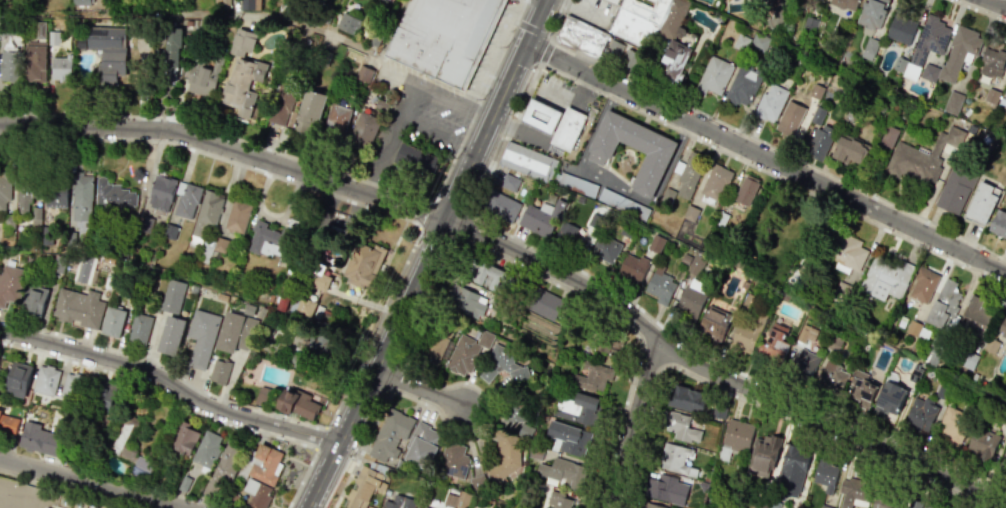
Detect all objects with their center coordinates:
building: (81, 2)
building: (844, 3)
building: (222, 4)
building: (250, 4)
road: (995, 4)
building: (646, 9)
road: (516, 10)
road: (978, 10)
building: (872, 13)
road: (259, 18)
building: (348, 23)
building: (808, 23)
building: (633, 28)
building: (900, 28)
road: (531, 29)
building: (582, 36)
building: (444, 37)
building: (672, 42)
building: (741, 42)
building: (242, 43)
building: (759, 43)
traffic signals: (526, 44)
building: (926, 44)
building: (614, 48)
building: (869, 48)
building: (109, 51)
building: (958, 52)
road: (545, 53)
building: (171, 54)
building: (630, 55)
building: (992, 60)
building: (36, 61)
building: (8, 64)
building: (899, 64)
building: (61, 68)
building: (929, 72)
building: (713, 75)
building: (203, 78)
building: (243, 85)
building: (740, 89)
building: (816, 91)
building: (991, 95)
building: (1002, 100)
building: (770, 102)
building: (953, 102)
building: (280, 106)
building: (309, 110)
building: (817, 114)
building: (541, 116)
parking lot: (415, 117)
building: (790, 118)
building: (338, 119)
road: (464, 128)
building: (568, 128)
building: (971, 129)
building: (363, 130)
building: (888, 136)
road: (759, 140)
building: (819, 143)
road: (225, 146)
building: (847, 147)
building: (657, 152)
road: (765, 156)
building: (919, 157)
road: (495, 160)
building: (527, 161)
building: (416, 162)
building: (689, 175)
road: (772, 176)
building: (509, 182)
building: (715, 183)
building: (577, 184)
road: (613, 186)
building: (4, 189)
building: (747, 189)
building: (953, 190)
building: (161, 193)
building: (113, 194)
building: (667, 195)
building: (56, 196)
building: (82, 197)
building: (23, 198)
building: (186, 200)
building: (981, 203)
building: (500, 205)
building: (722, 212)
building: (207, 213)
building: (690, 213)
building: (36, 215)
building: (237, 216)
building: (541, 217)
building: (998, 223)
road: (465, 226)
building: (626, 229)
building: (170, 231)
building: (569, 236)
building: (267, 240)
building: (656, 243)
building: (214, 245)
building: (605, 248)
building: (846, 250)
road: (426, 254)
building: (685, 258)
building: (364, 262)
building: (696, 264)
building: (632, 268)
building: (84, 269)
building: (487, 276)
road: (546, 279)
building: (886, 279)
building: (9, 283)
building: (923, 284)
building: (659, 285)
building: (841, 293)
building: (173, 296)
building: (33, 300)
building: (746, 300)
building: (465, 301)
building: (689, 303)
building: (545, 304)
building: (943, 304)
building: (78, 307)
building: (305, 307)
building: (317, 311)
building: (973, 316)
building: (113, 321)
building: (713, 323)
building: (1003, 327)
building: (913, 328)
building: (139, 329)
building: (235, 332)
building: (806, 333)
building: (748, 334)
building: (171, 335)
building: (201, 337)
building: (775, 341)
building: (1005, 342)
building: (606, 343)
building: (833, 343)
road: (411, 344)
building: (990, 346)
building: (435, 347)
building: (467, 353)
building: (934, 353)
building: (967, 358)
building: (803, 363)
building: (501, 364)
building: (219, 371)
building: (915, 373)
road: (716, 374)
building: (832, 376)
building: (591, 377)
road: (749, 378)
building: (18, 379)
building: (46, 379)
road: (395, 380)
road: (171, 381)
building: (69, 385)
road: (417, 388)
building: (861, 388)
building: (105, 394)
building: (687, 398)
building: (888, 399)
road: (417, 401)
building: (298, 404)
road: (755, 405)
building: (577, 408)
building: (920, 413)
building: (512, 415)
road: (619, 417)
road: (632, 422)
building: (8, 424)
building: (1005, 424)
road: (471, 425)
building: (680, 426)
building: (954, 427)
building: (391, 435)
building: (738, 435)
building: (185, 438)
building: (567, 438)
building: (40, 439)
building: (124, 440)
building: (983, 444)
building: (422, 445)
road: (360, 449)
building: (207, 450)
building: (505, 456)
building: (763, 456)
building: (1003, 456)
building: (453, 459)
building: (676, 459)
building: (227, 463)
building: (262, 465)
building: (141, 470)
building: (559, 470)
building: (792, 470)
building: (825, 474)
road: (90, 483)
building: (660, 486)
building: (365, 487)
building: (2, 491)
building: (257, 493)
building: (559, 499)
building: (453, 500)
building: (399, 502)
building: (912, 507)

